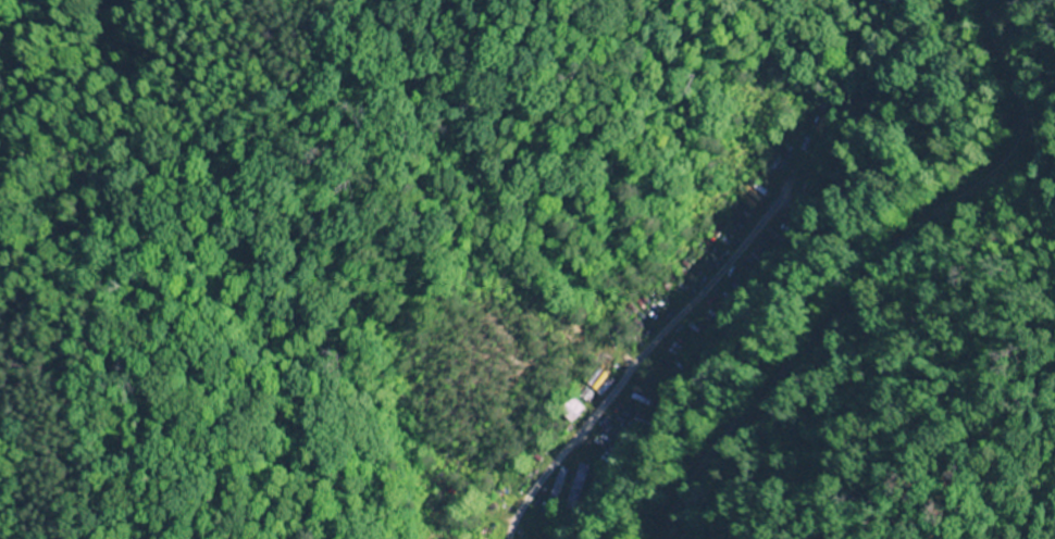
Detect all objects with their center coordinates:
building: (580, 409)
building: (580, 486)

